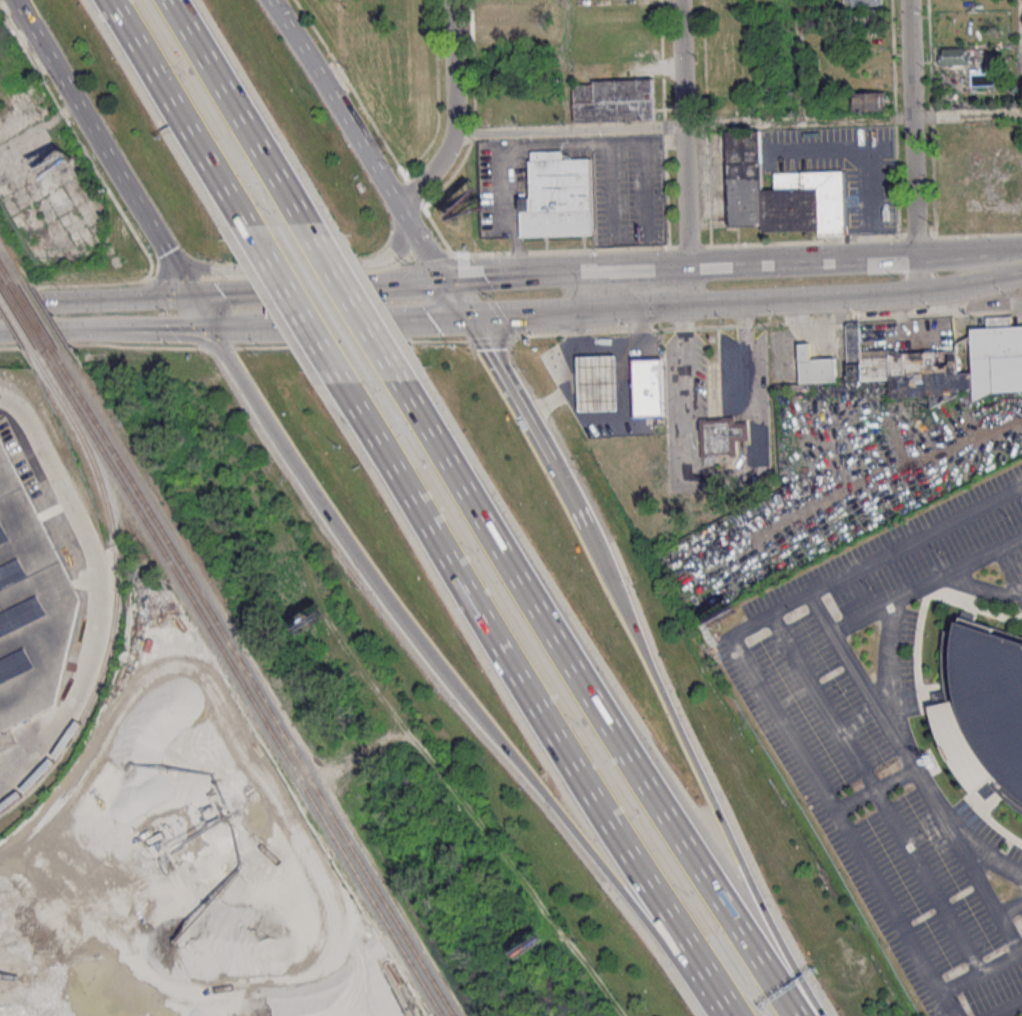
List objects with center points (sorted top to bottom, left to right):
building: (866, 2)
building: (495, 11)
building: (868, 16)
road: (1021, 21)
road: (28, 26)
road: (31, 26)
building: (496, 32)
road: (563, 36)
building: (957, 56)
road: (797, 61)
building: (613, 100)
building: (868, 101)
road: (178, 112)
road: (237, 113)
road: (453, 115)
road: (736, 125)
road: (534, 147)
road: (912, 147)
road: (683, 153)
road: (366, 157)
road: (118, 173)
building: (779, 193)
building: (557, 196)
road: (957, 254)
road: (775, 262)
road: (283, 265)
railway: (6, 271)
road: (550, 274)
railway: (2, 280)
traffic signals: (442, 281)
road: (316, 288)
traffic signals: (190, 296)
road: (126, 298)
railway: (13, 300)
road: (31, 301)
road: (743, 303)
road: (294, 304)
road: (353, 304)
road: (200, 314)
railway: (33, 316)
traffic signals: (464, 318)
road: (398, 321)
railway: (16, 323)
road: (271, 328)
traffic signals: (211, 332)
railway: (33, 333)
road: (144, 335)
road: (511, 336)
road: (44, 339)
road: (5, 340)
road: (743, 354)
road: (681, 359)
building: (937, 363)
building: (815, 367)
building: (599, 382)
building: (648, 386)
road: (524, 420)
building: (720, 437)
road: (721, 484)
road: (945, 574)
railway: (116, 589)
road: (88, 592)
road: (887, 603)
building: (29, 608)
road: (640, 647)
road: (424, 649)
road: (509, 659)
road: (887, 660)
road: (754, 673)
railway: (241, 683)
railway: (253, 683)
road: (592, 702)
building: (983, 709)
parking lot: (893, 740)
road: (903, 754)
road: (872, 789)
road: (876, 794)
road: (979, 849)
road: (746, 894)
road: (1001, 921)
road: (1021, 953)
road: (980, 974)
road: (706, 975)
road: (947, 1005)
road: (1002, 1006)

